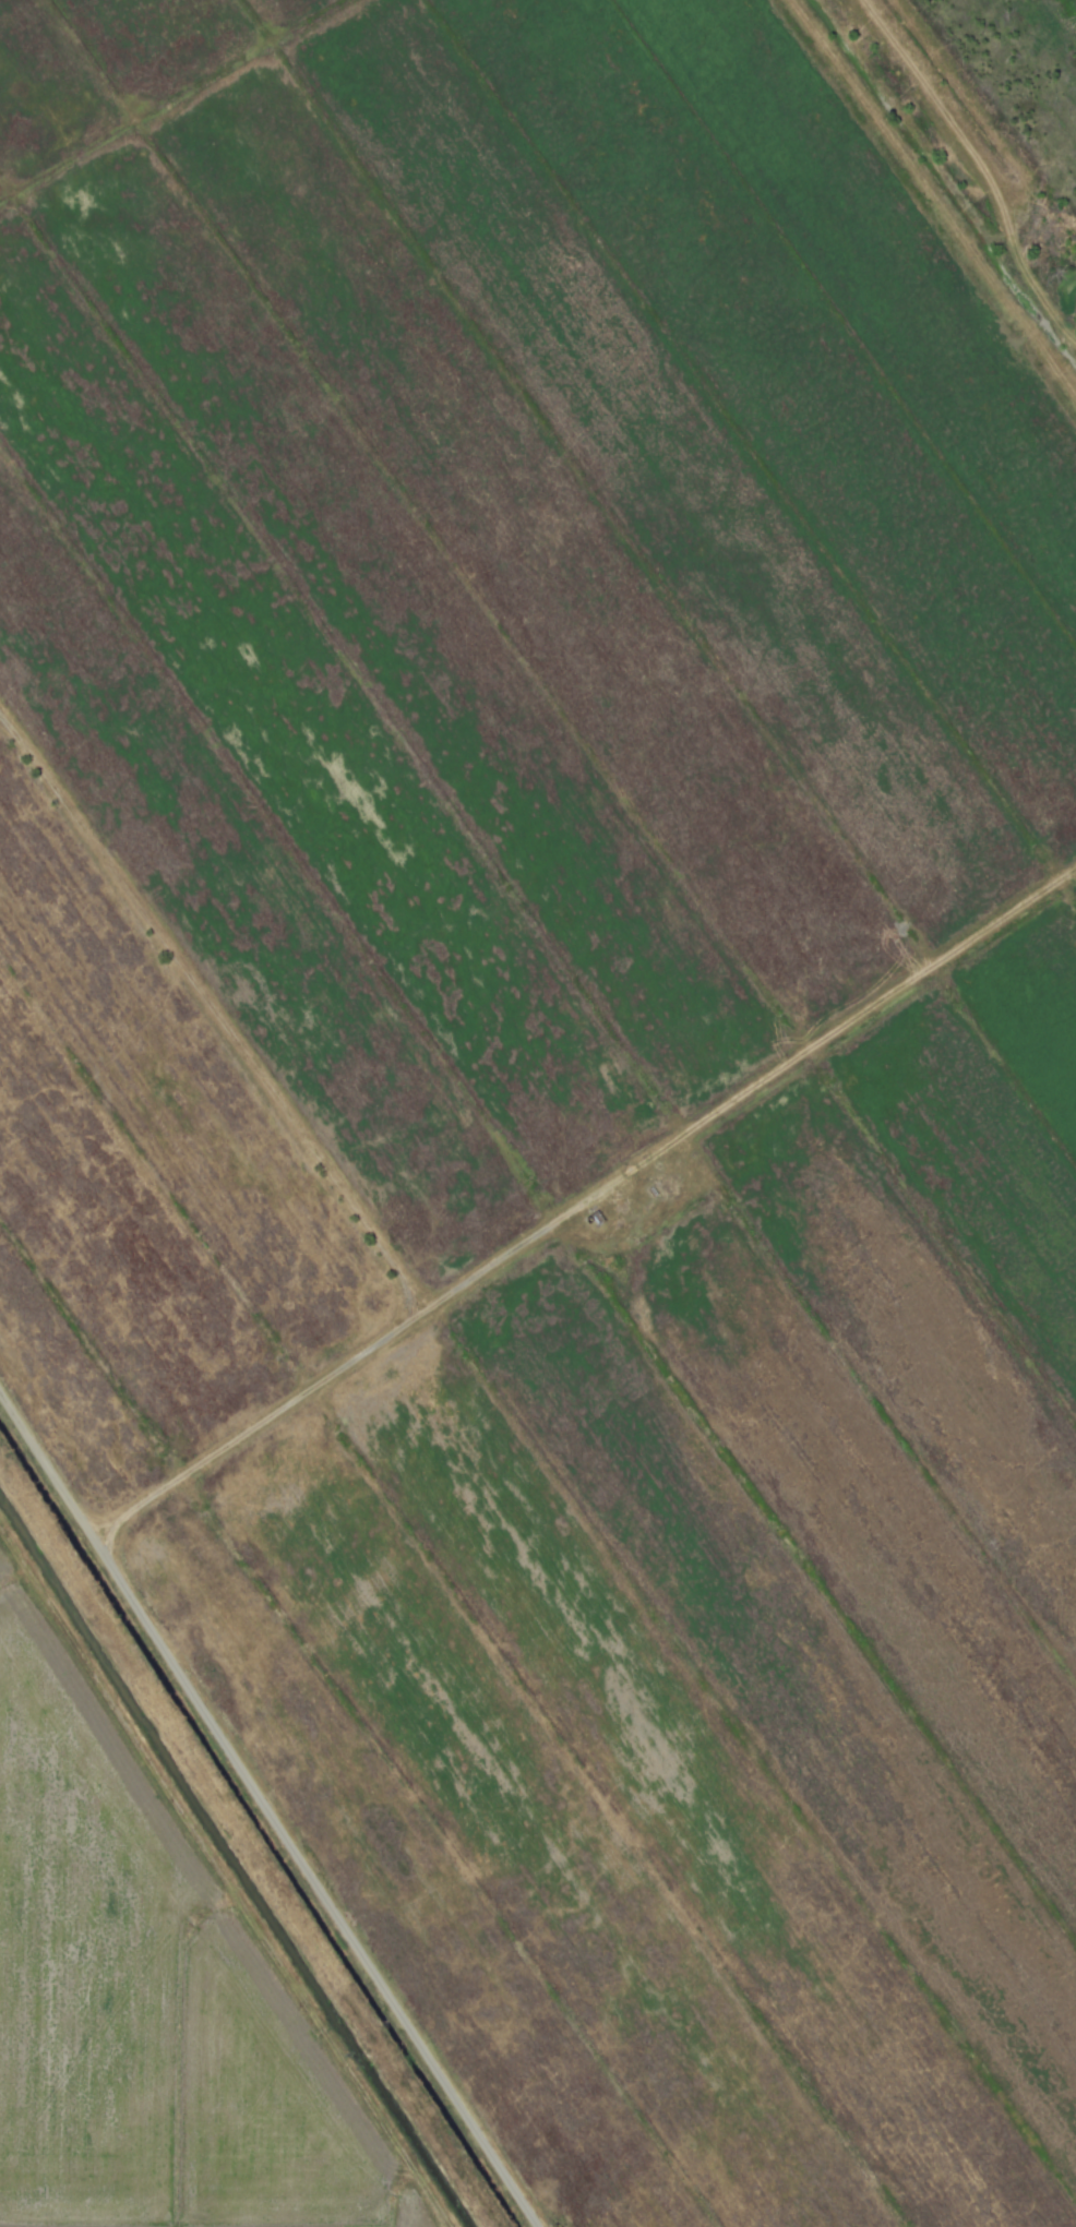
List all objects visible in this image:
road: (222, 1029)
crop: (538, 1113)
road: (323, 1386)
road: (266, 1812)

